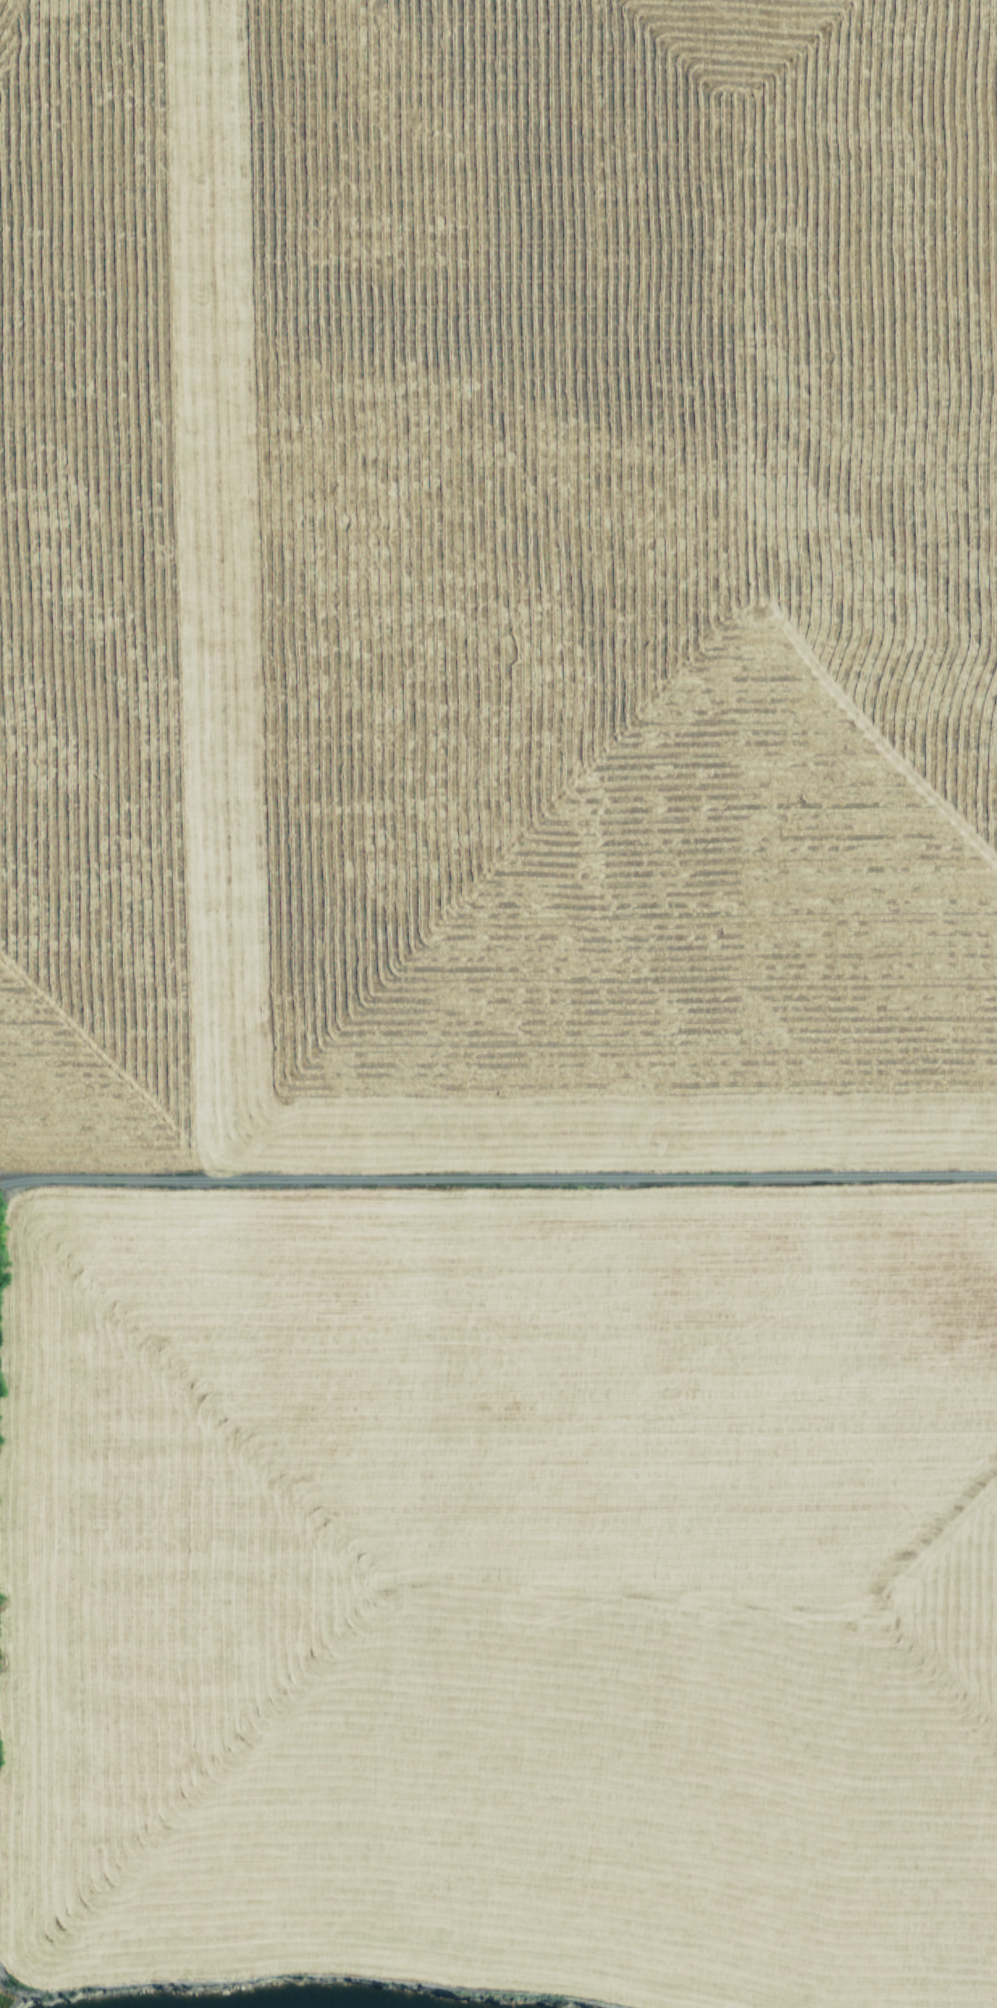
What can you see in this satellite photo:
crop: (498, 1003)
road: (498, 1179)

